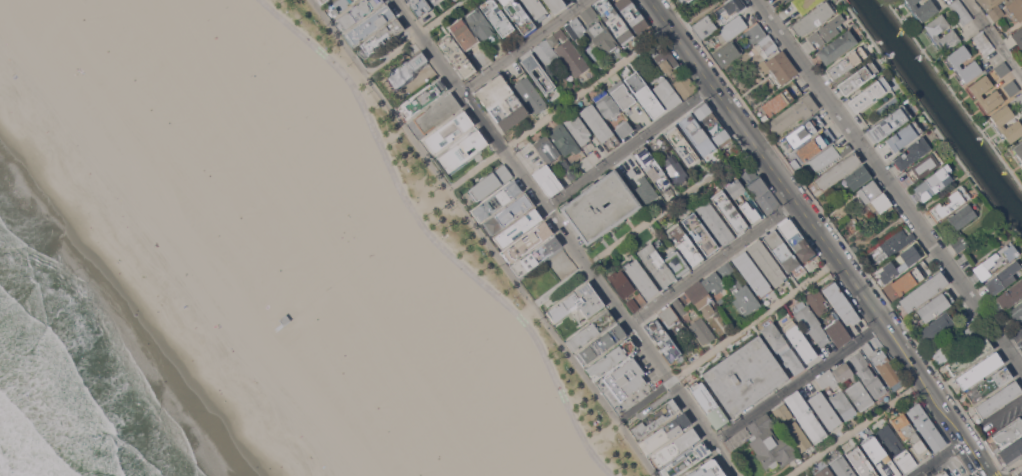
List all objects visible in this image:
building: (565, 0)
building: (688, 0)
building: (321, 1)
building: (436, 1)
building: (784, 1)
building: (805, 4)
building: (555, 5)
building: (338, 6)
building: (420, 7)
building: (1015, 8)
building: (536, 9)
building: (730, 9)
building: (923, 9)
building: (960, 12)
building: (356, 13)
building: (996, 13)
park: (217, 14)
building: (586, 14)
building: (632, 15)
road: (695, 15)
building: (519, 16)
building: (497, 18)
building: (813, 19)
building: (369, 24)
building: (480, 24)
building: (617, 25)
building: (704, 27)
building: (733, 28)
building: (576, 30)
building: (826, 31)
building: (463, 33)
building: (756, 34)
road: (415, 36)
building: (949, 36)
building: (603, 37)
road: (995, 37)
building: (380, 38)
building: (1018, 38)
building: (983, 43)
building: (767, 44)
road: (523, 45)
building: (837, 47)
building: (546, 54)
building: (569, 54)
building: (727, 54)
building: (457, 55)
building: (846, 62)
park: (259, 64)
building: (972, 66)
building: (408, 67)
building: (779, 67)
building: (1002, 69)
building: (681, 73)
road: (449, 74)
building: (538, 74)
building: (857, 78)
building: (1012, 88)
road: (586, 89)
building: (979, 91)
building: (666, 93)
road: (953, 93)
building: (868, 94)
building: (530, 95)
building: (621, 95)
building: (645, 95)
building: (425, 97)
building: (781, 99)
building: (1019, 99)
building: (502, 103)
building: (608, 106)
building: (437, 113)
building: (793, 113)
road: (930, 118)
park: (297, 119)
building: (711, 123)
building: (889, 124)
building: (1015, 125)
building: (637, 126)
building: (600, 127)
building: (578, 129)
building: (623, 129)
road: (744, 129)
building: (447, 132)
building: (805, 132)
building: (696, 135)
building: (904, 135)
building: (564, 140)
building: (816, 144)
road: (629, 147)
building: (683, 148)
building: (546, 149)
building: (845, 149)
building: (1018, 149)
building: (462, 151)
building: (912, 153)
building: (824, 159)
building: (668, 160)
building: (924, 166)
road: (475, 169)
building: (653, 169)
building: (837, 171)
building: (630, 174)
building: (858, 178)
building: (547, 180)
building: (490, 182)
building: (933, 183)
road: (889, 185)
building: (646, 190)
building: (760, 191)
building: (869, 191)
building: (736, 198)
building: (497, 201)
building: (880, 203)
building: (948, 203)
building: (600, 206)
road: (545, 207)
building: (730, 212)
building: (507, 214)
building: (963, 215)
road: (643, 223)
building: (715, 223)
building: (700, 234)
road: (838, 234)
road: (483, 237)
building: (796, 239)
road: (434, 240)
building: (526, 242)
building: (897, 243)
building: (959, 243)
building: (685, 244)
building: (780, 250)
building: (535, 256)
building: (995, 261)
road: (712, 262)
building: (901, 262)
building: (766, 263)
building: (663, 264)
building: (725, 270)
building: (752, 274)
building: (640, 278)
building: (910, 278)
building: (1002, 278)
building: (713, 282)
building: (621, 283)
building: (923, 291)
building: (1010, 295)
building: (743, 297)
building: (700, 298)
building: (816, 302)
building: (577, 304)
building: (841, 304)
building: (633, 305)
building: (679, 306)
building: (934, 307)
building: (1017, 312)
building: (671, 320)
building: (809, 323)
building: (935, 329)
building: (590, 330)
building: (702, 331)
building: (972, 332)
building: (838, 333)
building: (263, 335)
building: (774, 337)
building: (663, 340)
road: (728, 340)
building: (798, 340)
park: (478, 345)
building: (601, 345)
building: (940, 354)
building: (969, 357)
building: (611, 358)
building: (792, 361)
building: (881, 363)
road: (914, 366)
road: (662, 370)
building: (979, 370)
building: (868, 375)
building: (744, 376)
building: (625, 379)
building: (827, 379)
road: (798, 382)
building: (988, 385)
building: (853, 386)
building: (641, 391)
building: (998, 399)
building: (709, 405)
building: (842, 405)
building: (824, 410)
building: (782, 413)
building: (805, 416)
building: (655, 419)
building: (926, 427)
road: (856, 428)
building: (665, 433)
building: (1007, 433)
building: (798, 437)
building: (910, 437)
building: (889, 439)
building: (769, 444)
building: (675, 447)
building: (1010, 453)
building: (879, 457)
road: (939, 458)
building: (686, 459)
building: (861, 462)
building: (905, 462)
road: (1012, 465)
building: (842, 467)
building: (707, 469)
building: (824, 472)
road: (1003, 472)
building: (942, 473)
road: (1004, 474)
building: (968, 475)

